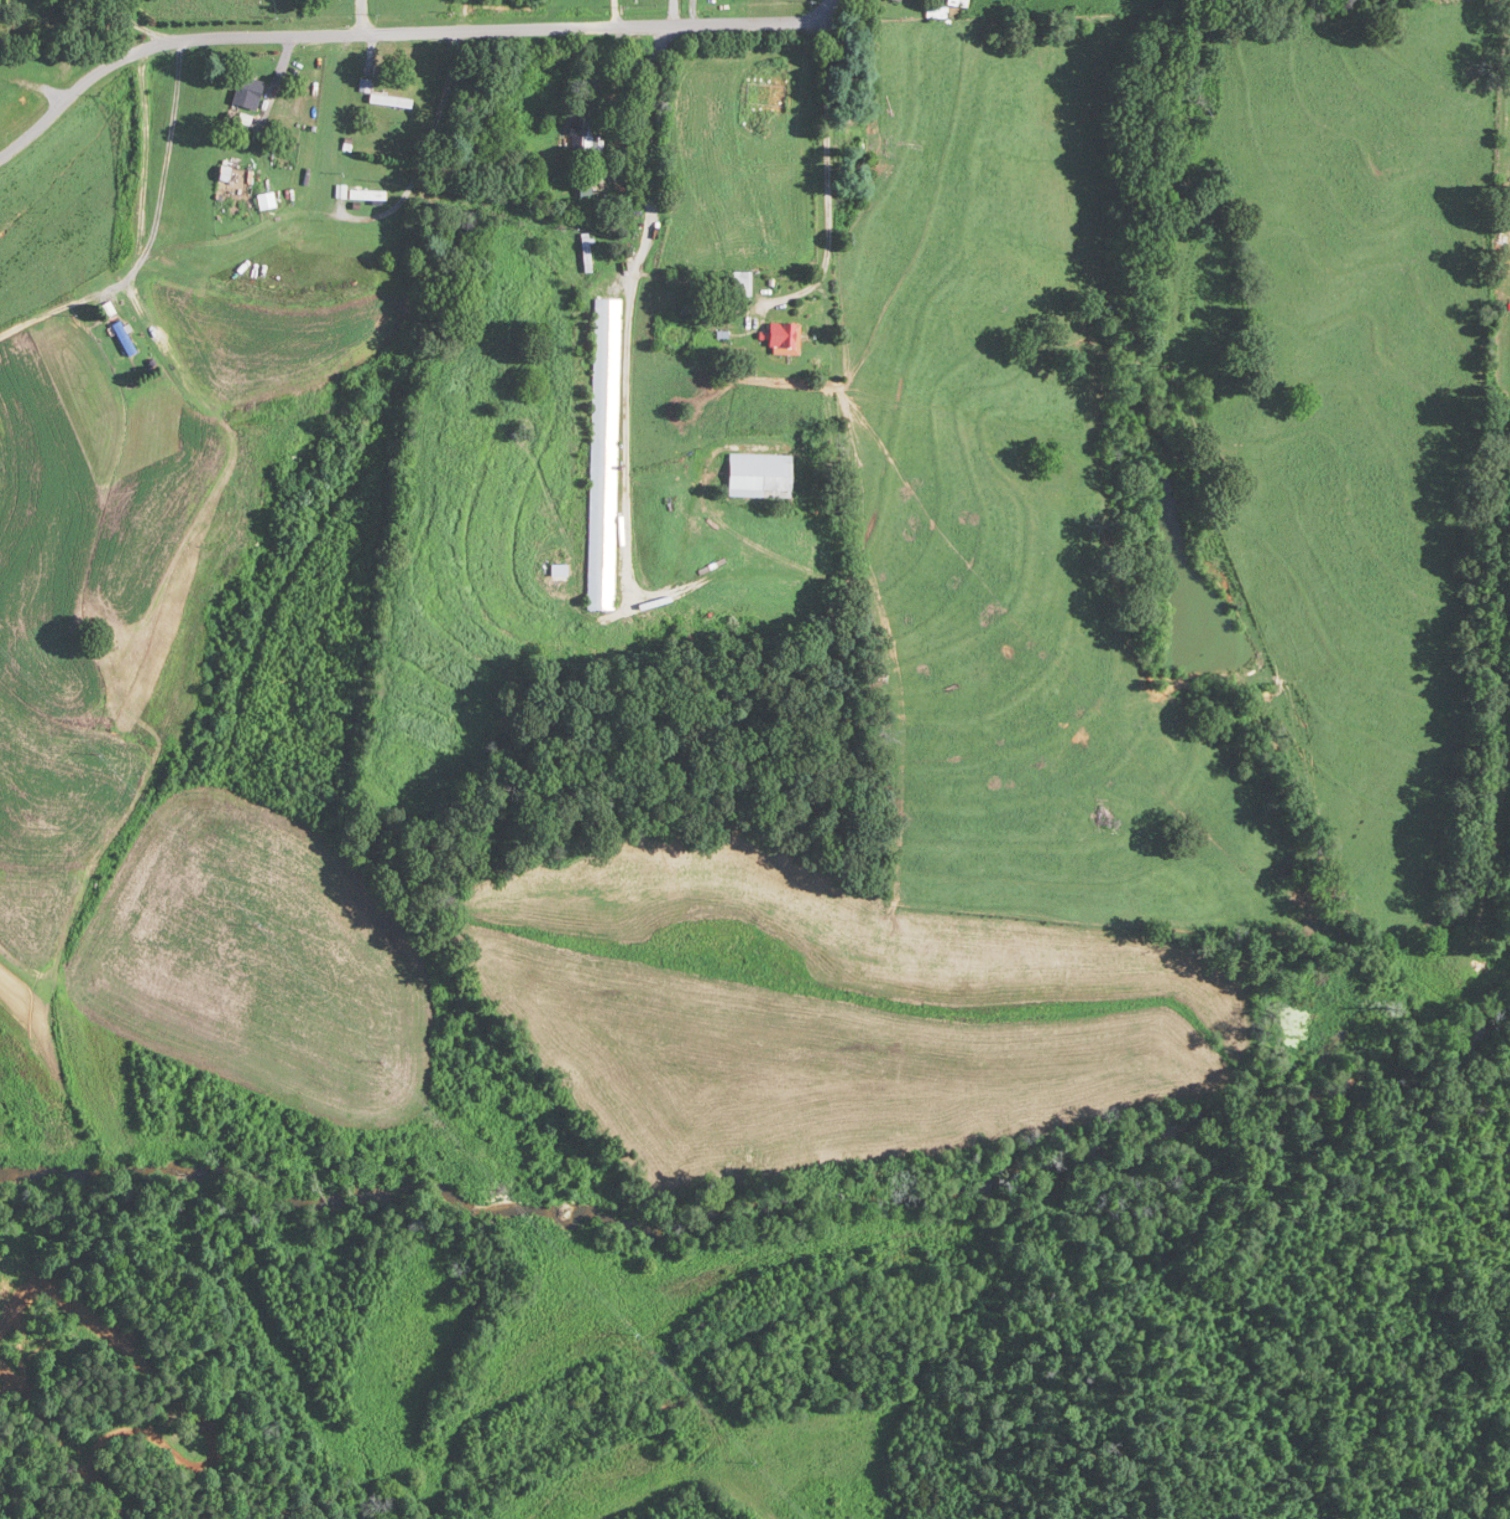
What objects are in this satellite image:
building: (959, 3)
road: (674, 15)
road: (619, 16)
road: (362, 20)
road: (135, 21)
road: (83, 30)
road: (402, 39)
building: (249, 92)
building: (391, 101)
building: (587, 136)
road: (827, 176)
building: (220, 178)
road: (161, 188)
road: (406, 194)
building: (367, 195)
building: (587, 253)
building: (742, 284)
building: (108, 309)
building: (125, 336)
building: (785, 339)
building: (604, 454)
building: (761, 475)
building: (560, 570)

